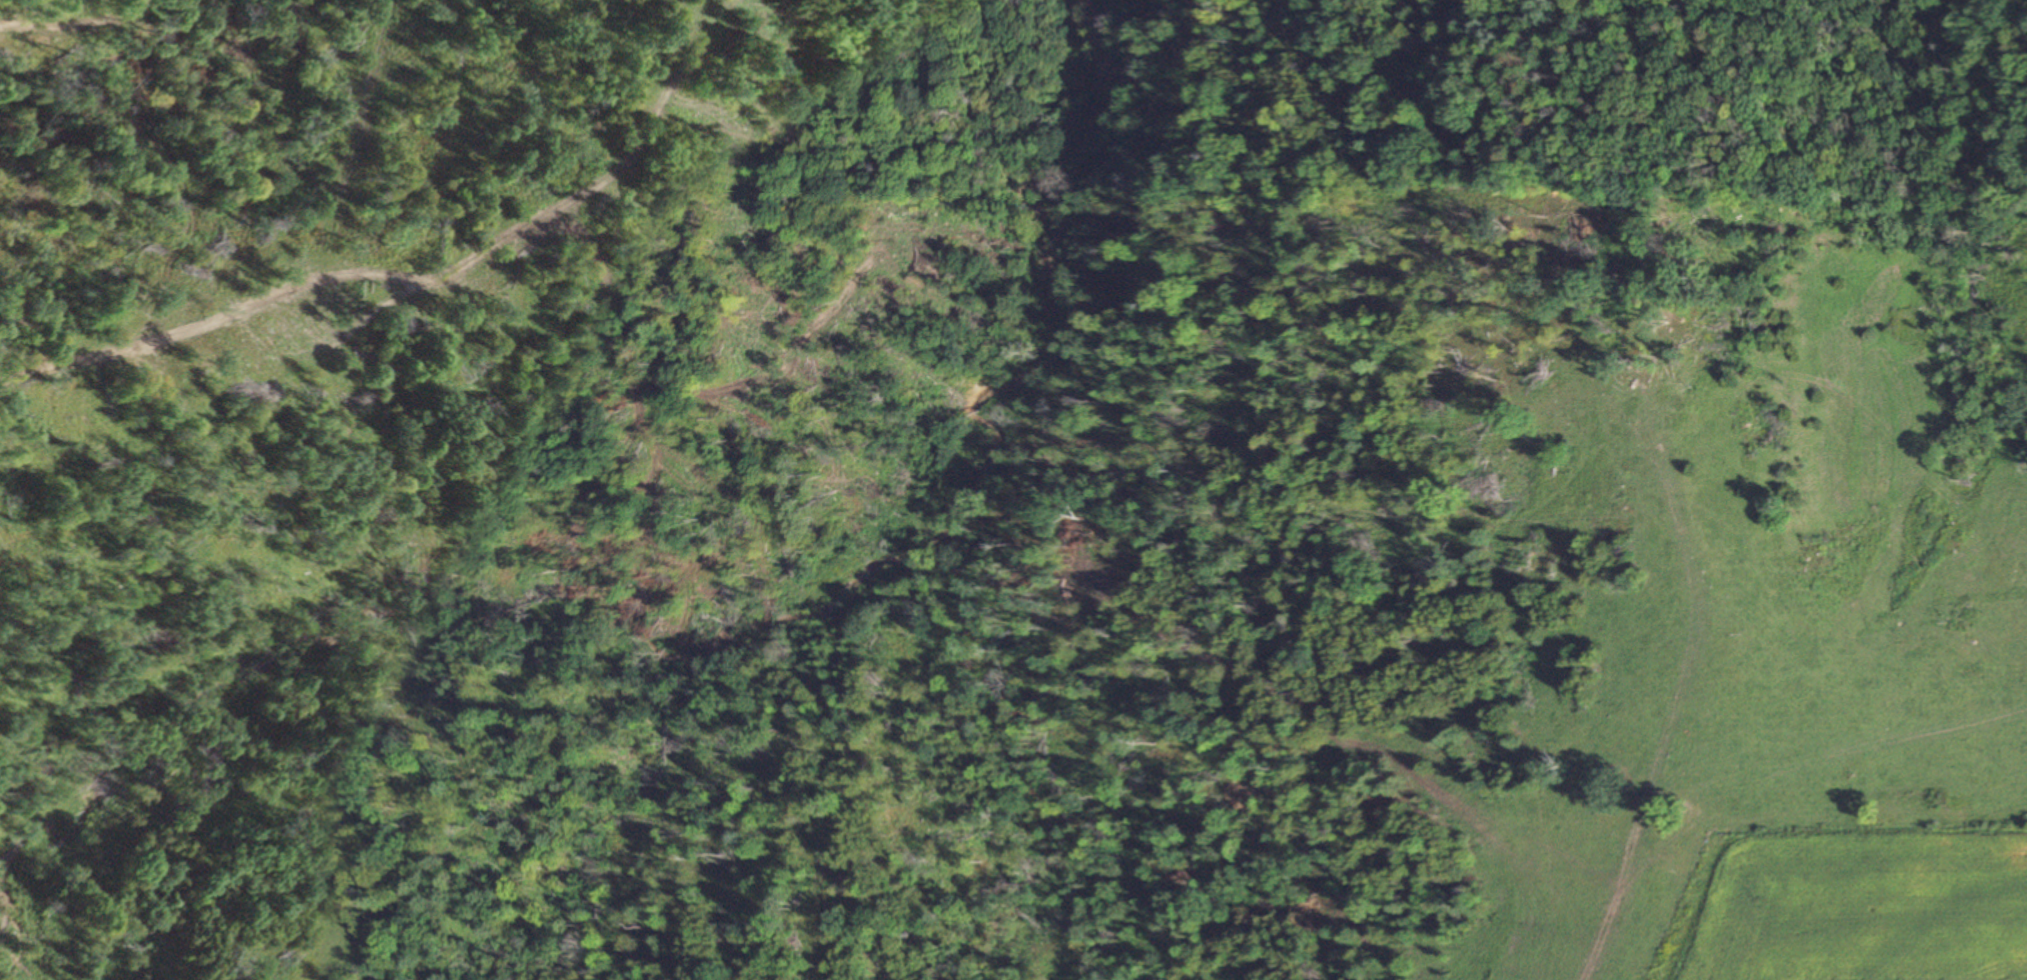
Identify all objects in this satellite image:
crop: (1867, 904)

